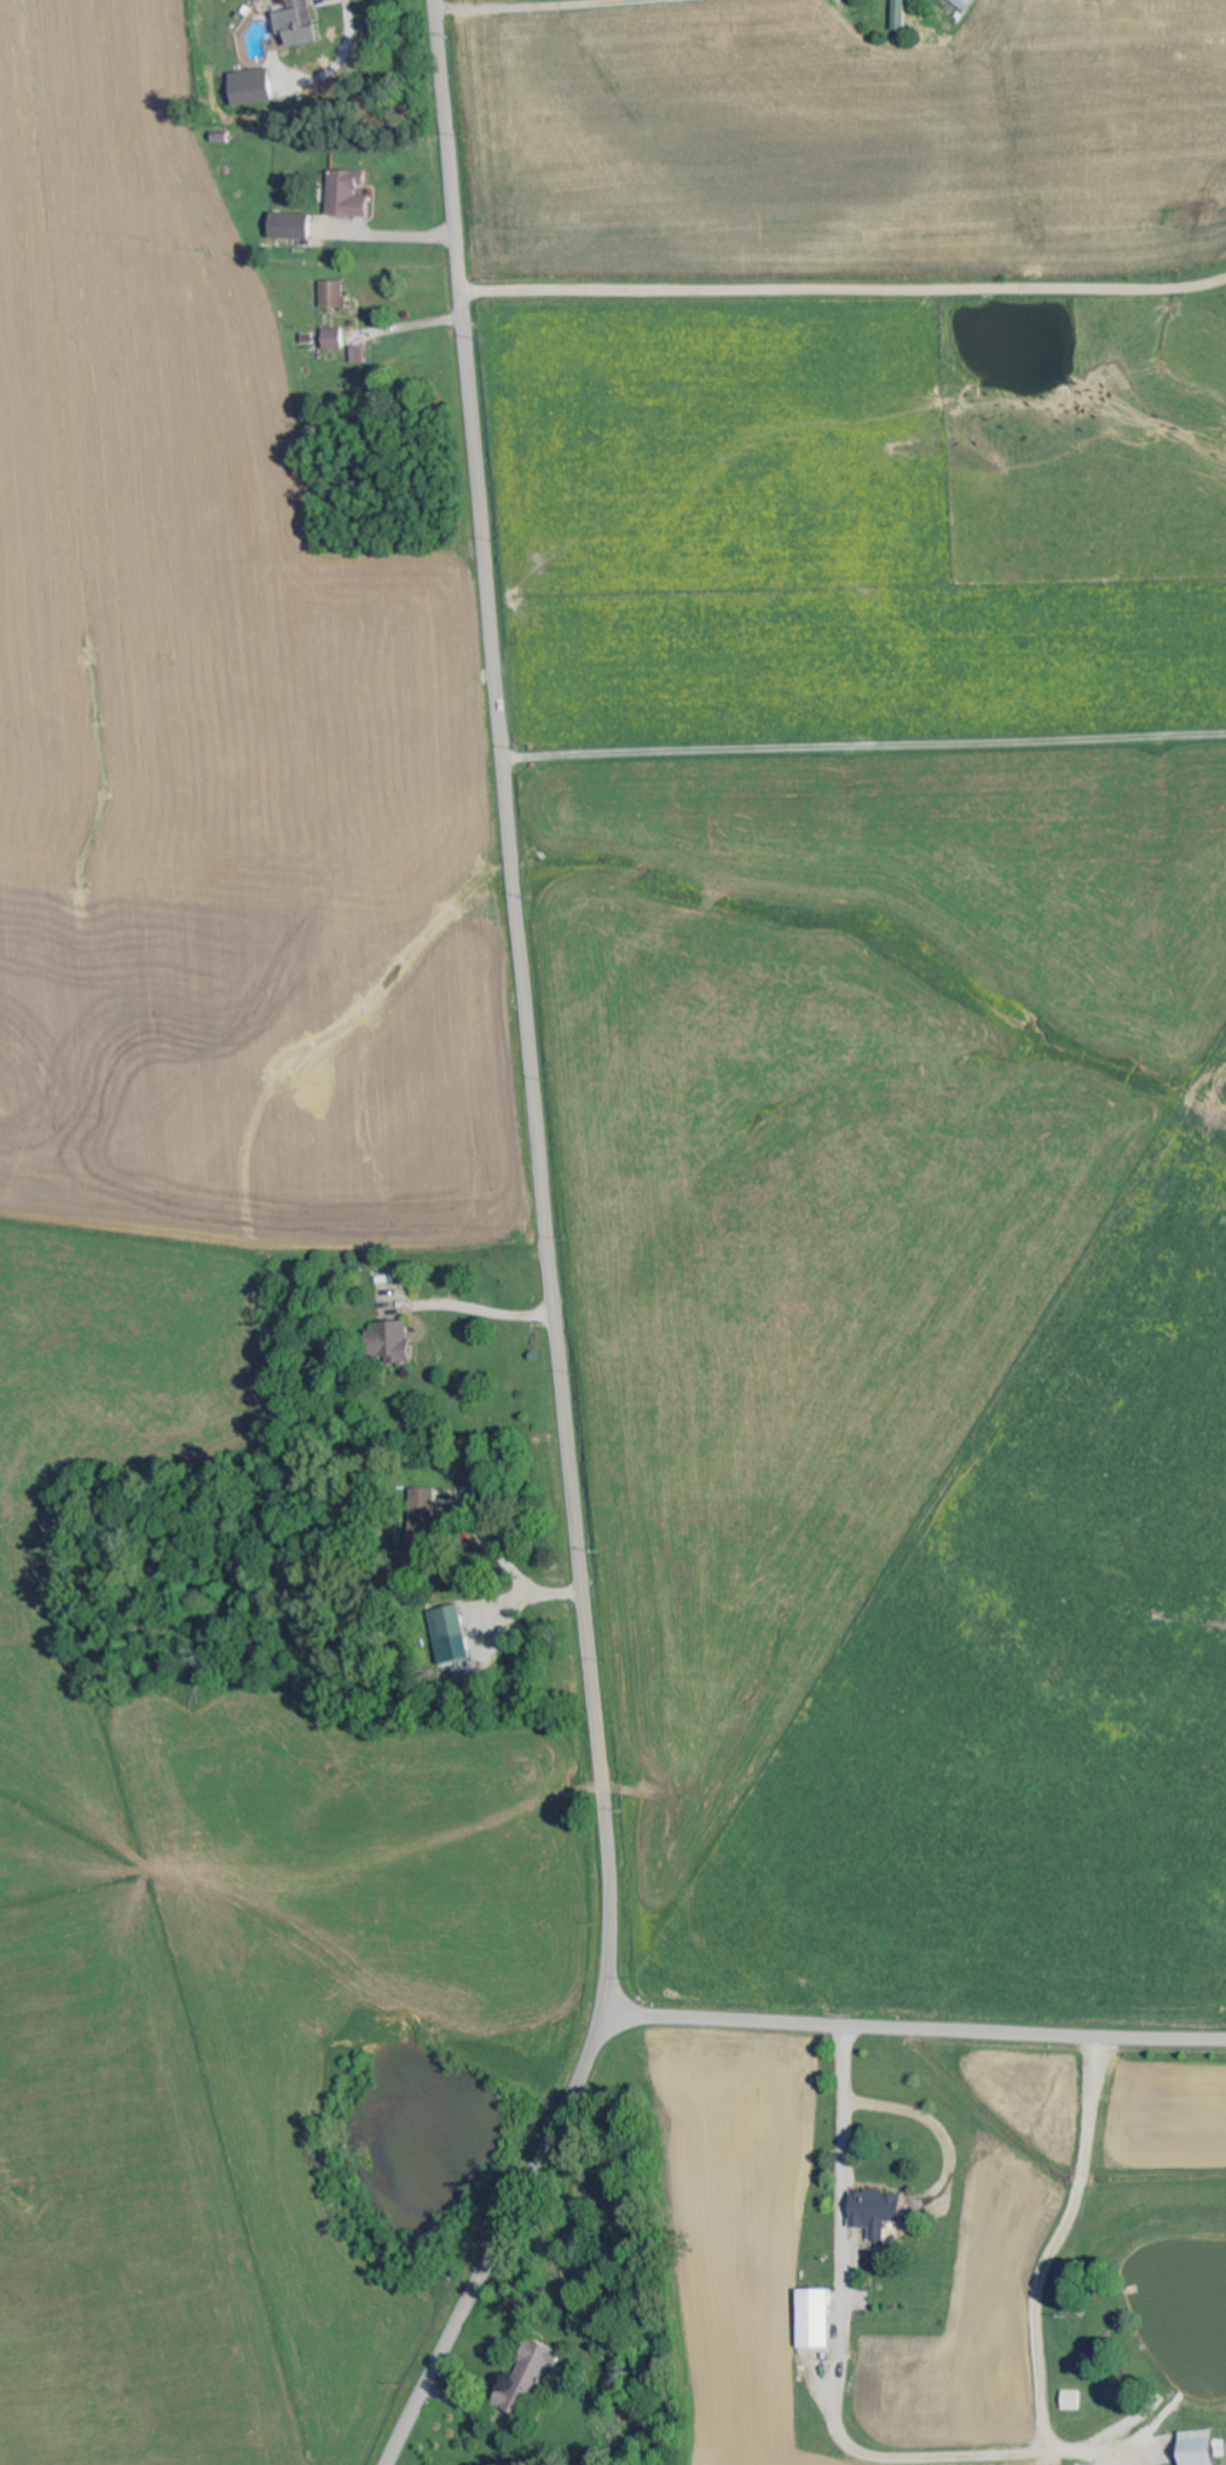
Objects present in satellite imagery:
building: (902, 15)
building: (295, 25)
building: (251, 87)
building: (348, 193)
building: (290, 225)
road: (393, 237)
road: (840, 242)
building: (334, 293)
building: (334, 338)
road: (1095, 510)
road: (549, 1256)
road: (485, 1309)
building: (391, 1342)
building: (452, 1634)
road: (913, 2032)
building: (878, 2214)
building: (816, 2320)
building: (530, 2378)
building: (1072, 2401)
building: (1198, 2448)

